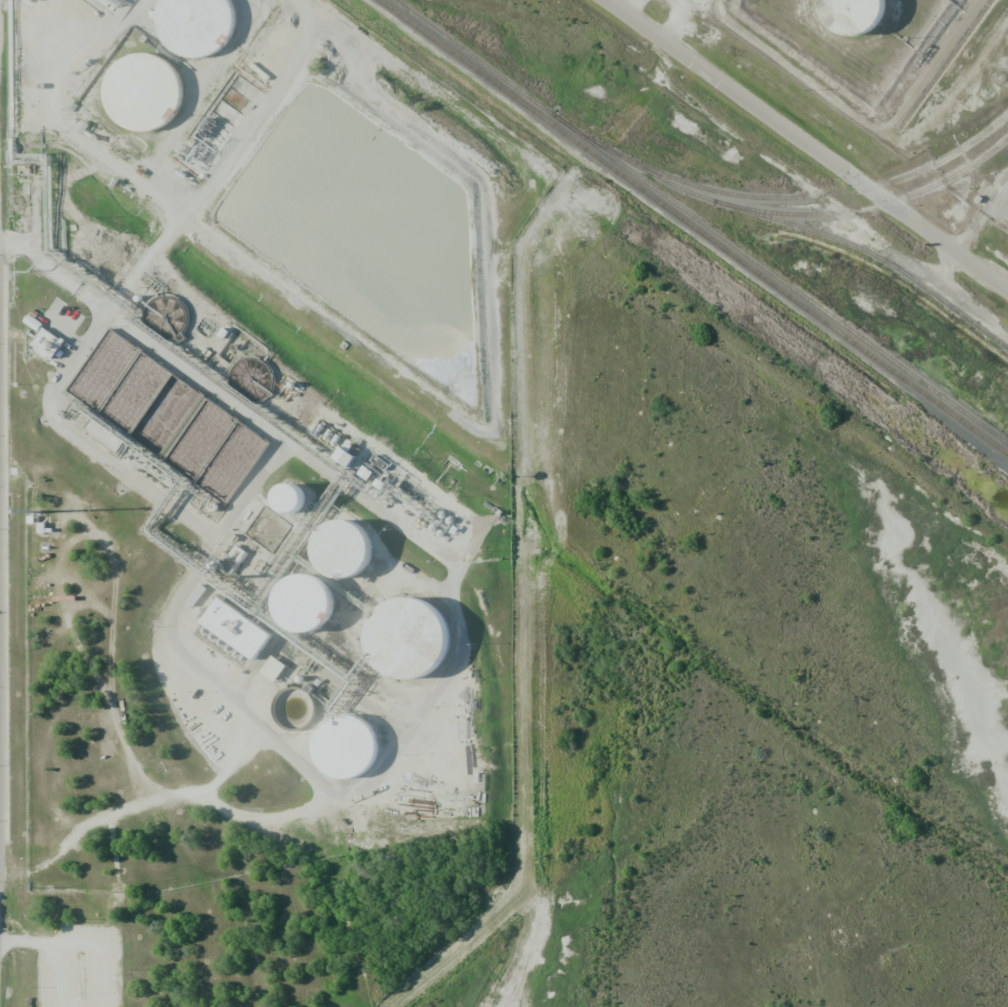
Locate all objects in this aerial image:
building: (865, 18)
storage tank: (865, 18)
building: (202, 28)
storage tank: (202, 28)
building: (151, 99)
storage tank: (151, 99)
road: (808, 144)
railway: (819, 194)
railway: (868, 207)
railway: (699, 222)
road: (981, 222)
railway: (788, 224)
railway: (692, 227)
building: (47, 343)
building: (347, 453)
building: (289, 498)
building: (305, 508)
storage tank: (305, 508)
building: (356, 558)
storage tank: (356, 558)
wastewater plant: (233, 569)
building: (314, 611)
storage tank: (314, 611)
building: (236, 628)
building: (205, 631)
building: (422, 647)
storage tank: (422, 647)
building: (272, 669)
building: (352, 750)
storage tank: (352, 750)

